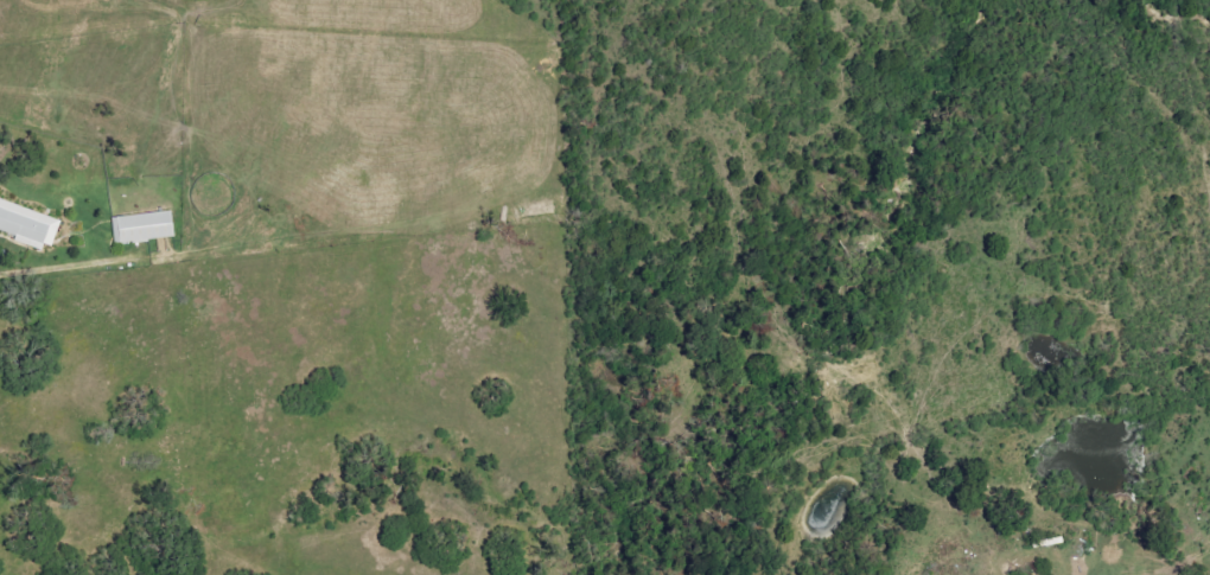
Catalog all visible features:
building: (28, 224)
building: (144, 226)

